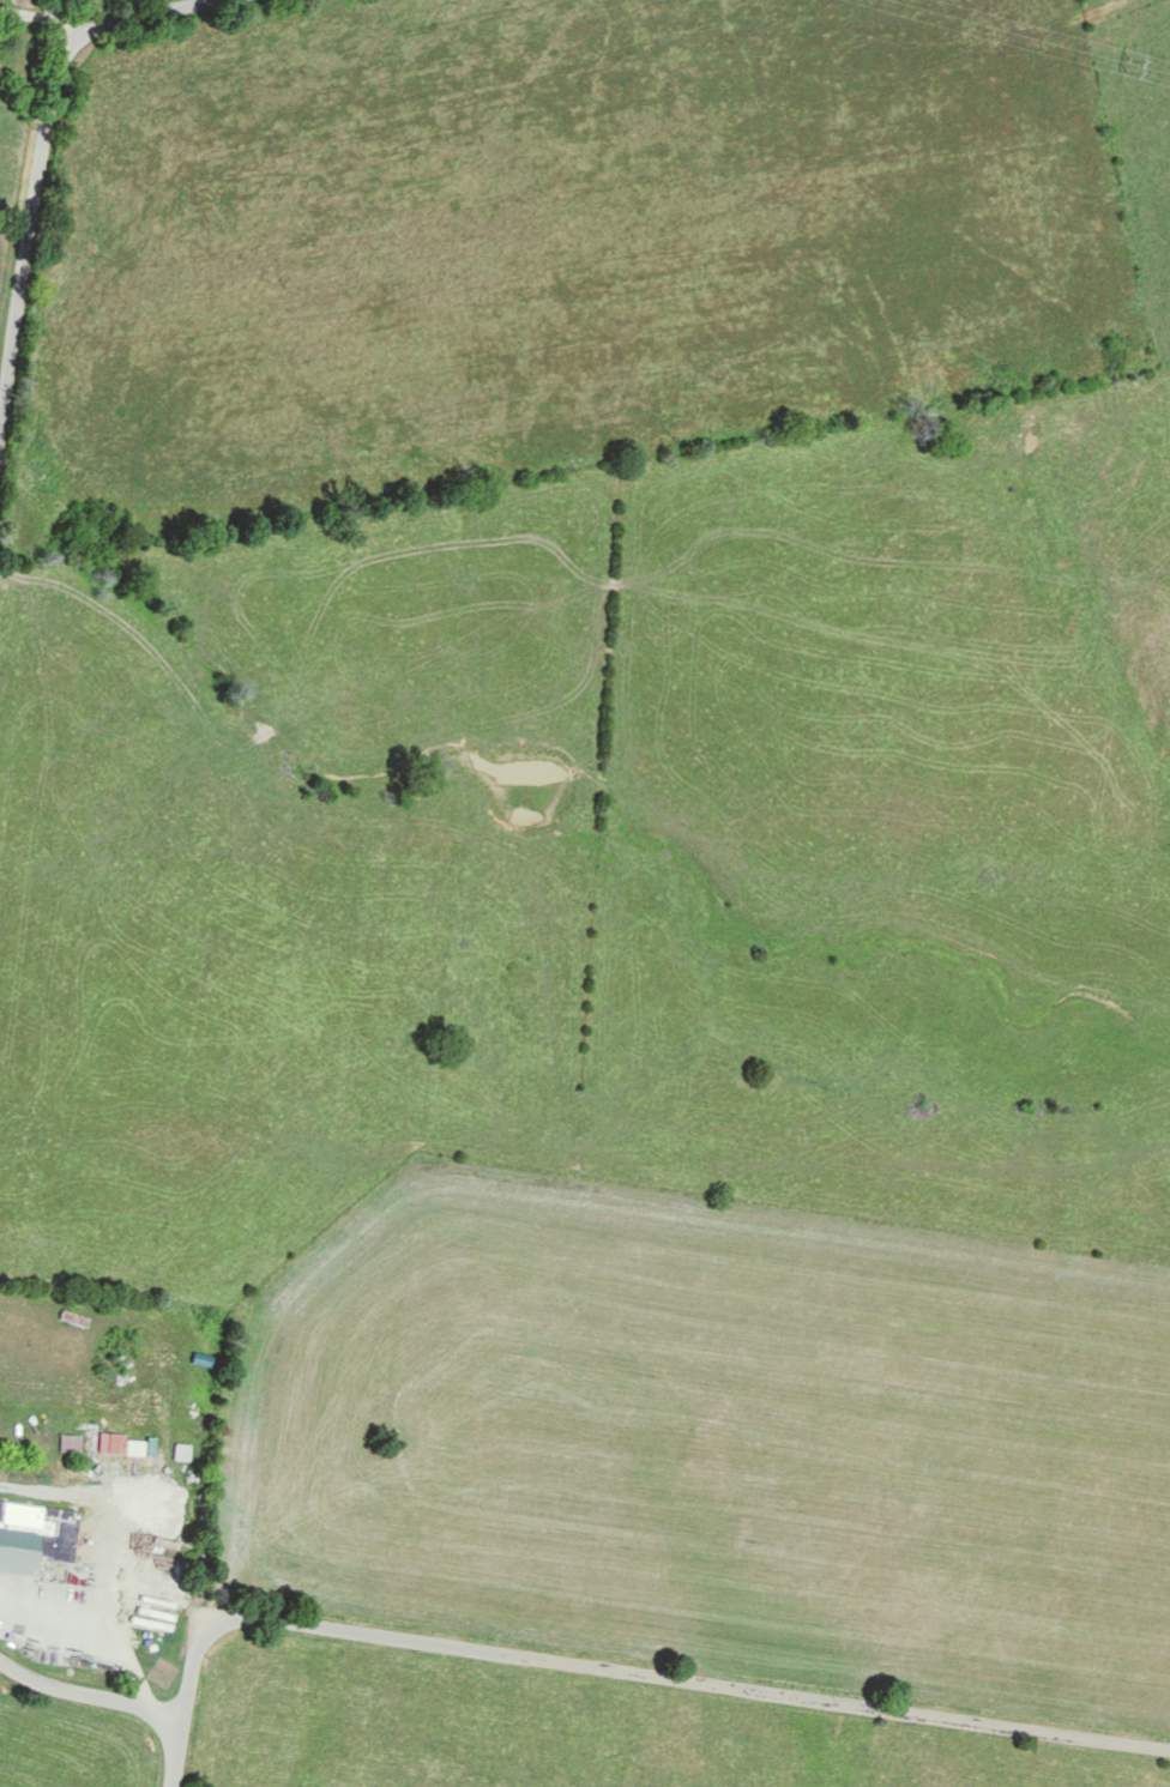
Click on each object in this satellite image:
road: (52, 23)
road: (156, 23)
road: (32, 255)
building: (102, 1514)
building: (36, 1533)
building: (163, 1672)
road: (646, 1673)
road: (91, 1695)
road: (182, 1753)

